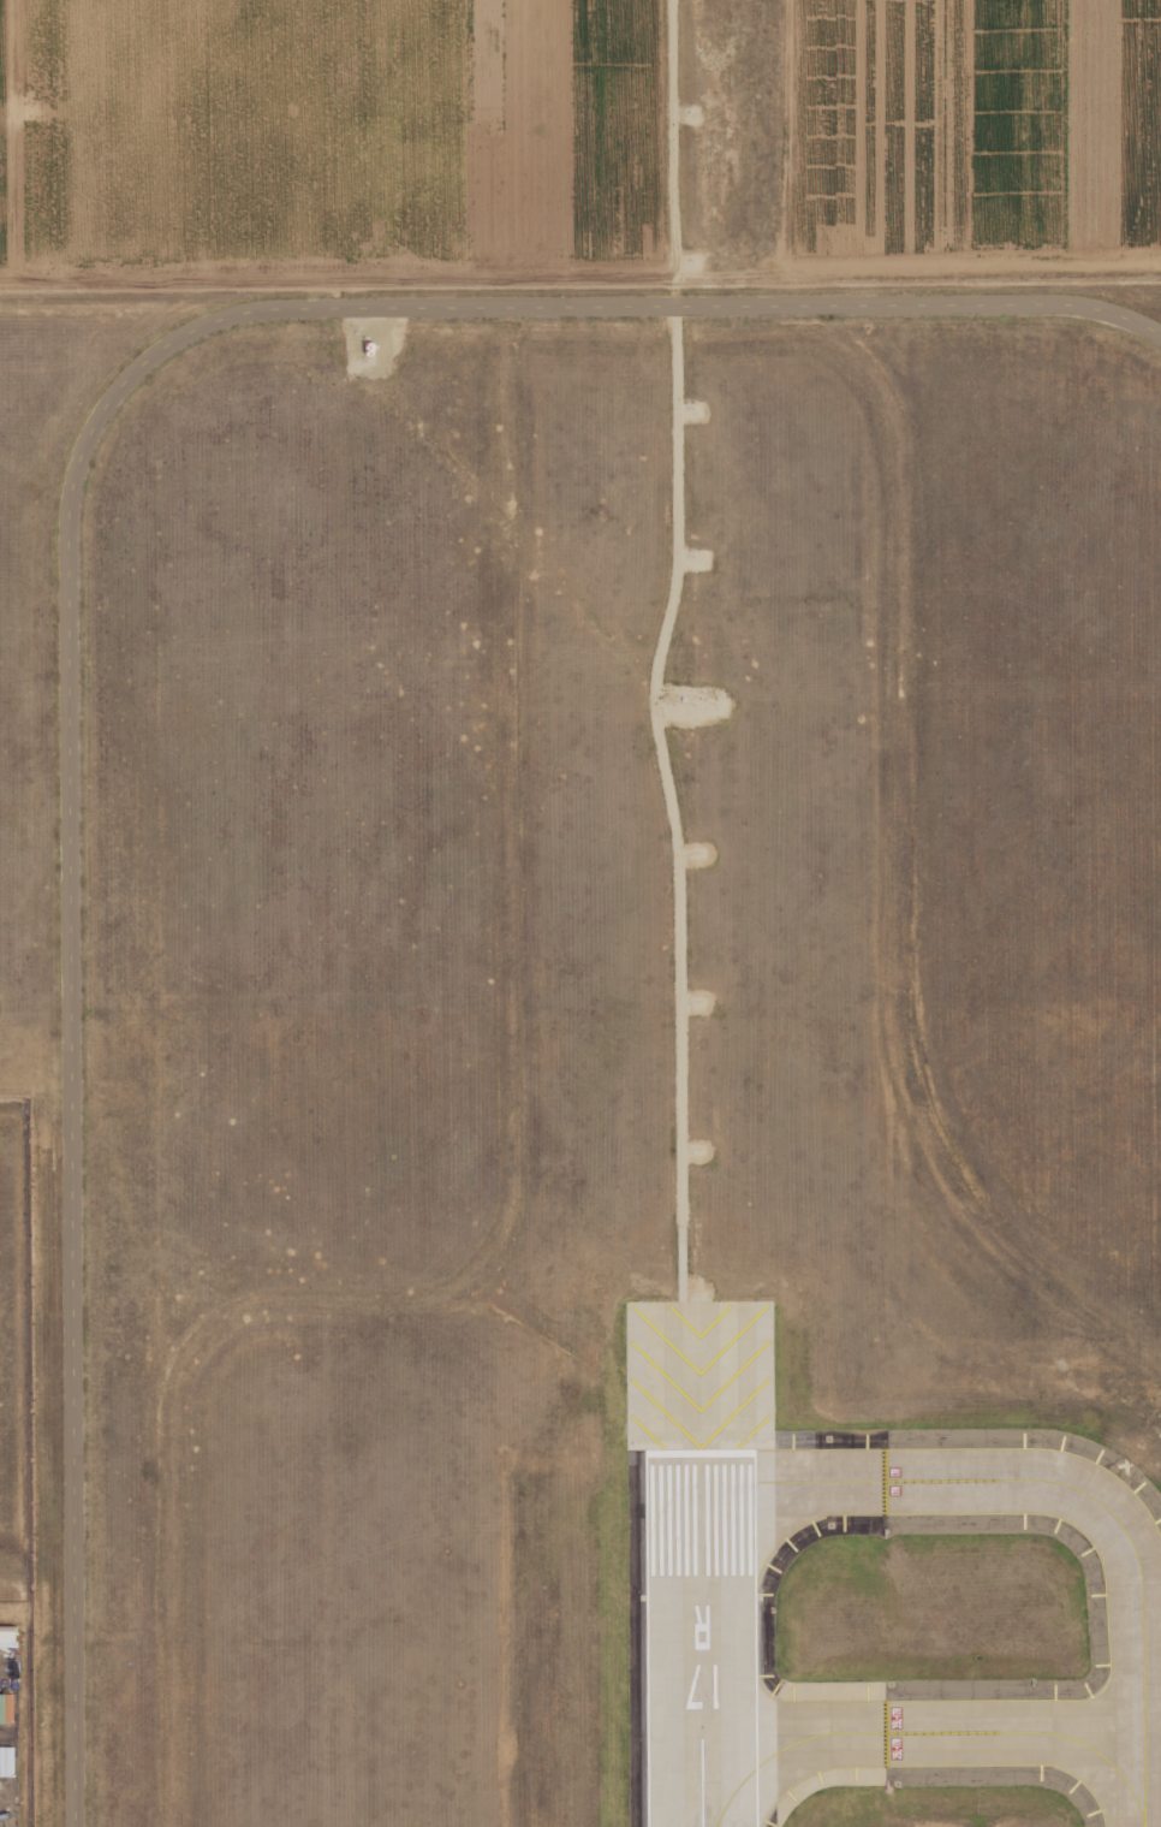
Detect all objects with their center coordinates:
crop: (320, 14)
road: (673, 19)
road: (8, 278)
building: (368, 346)
road: (66, 564)
road: (678, 861)
airport: (600, 1040)
airport taxiway: (1071, 1485)
airport runway: (701, 1564)
road: (1151, 1603)
building: (7, 1637)
building: (7, 1659)
building: (1, 1708)
building: (6, 1708)
airport taxiway: (929, 1732)

